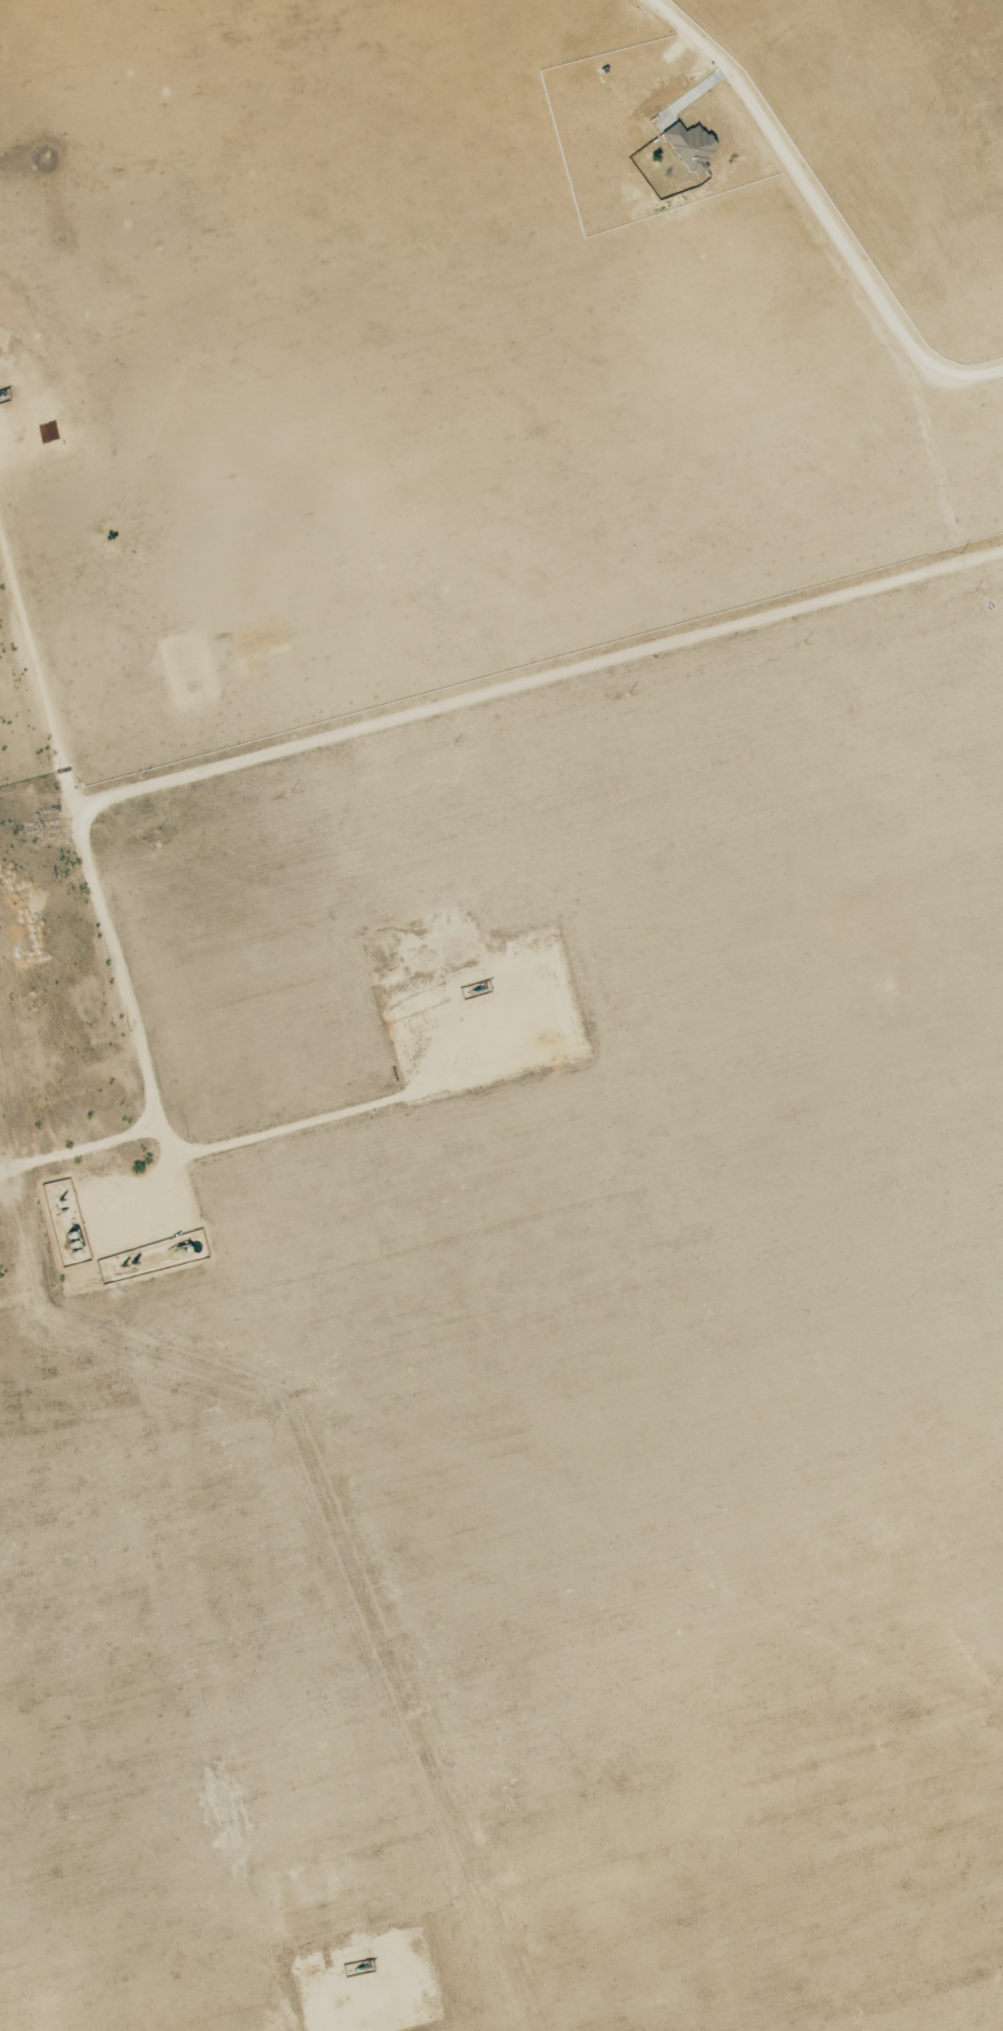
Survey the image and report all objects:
building: (692, 145)
road: (541, 679)

